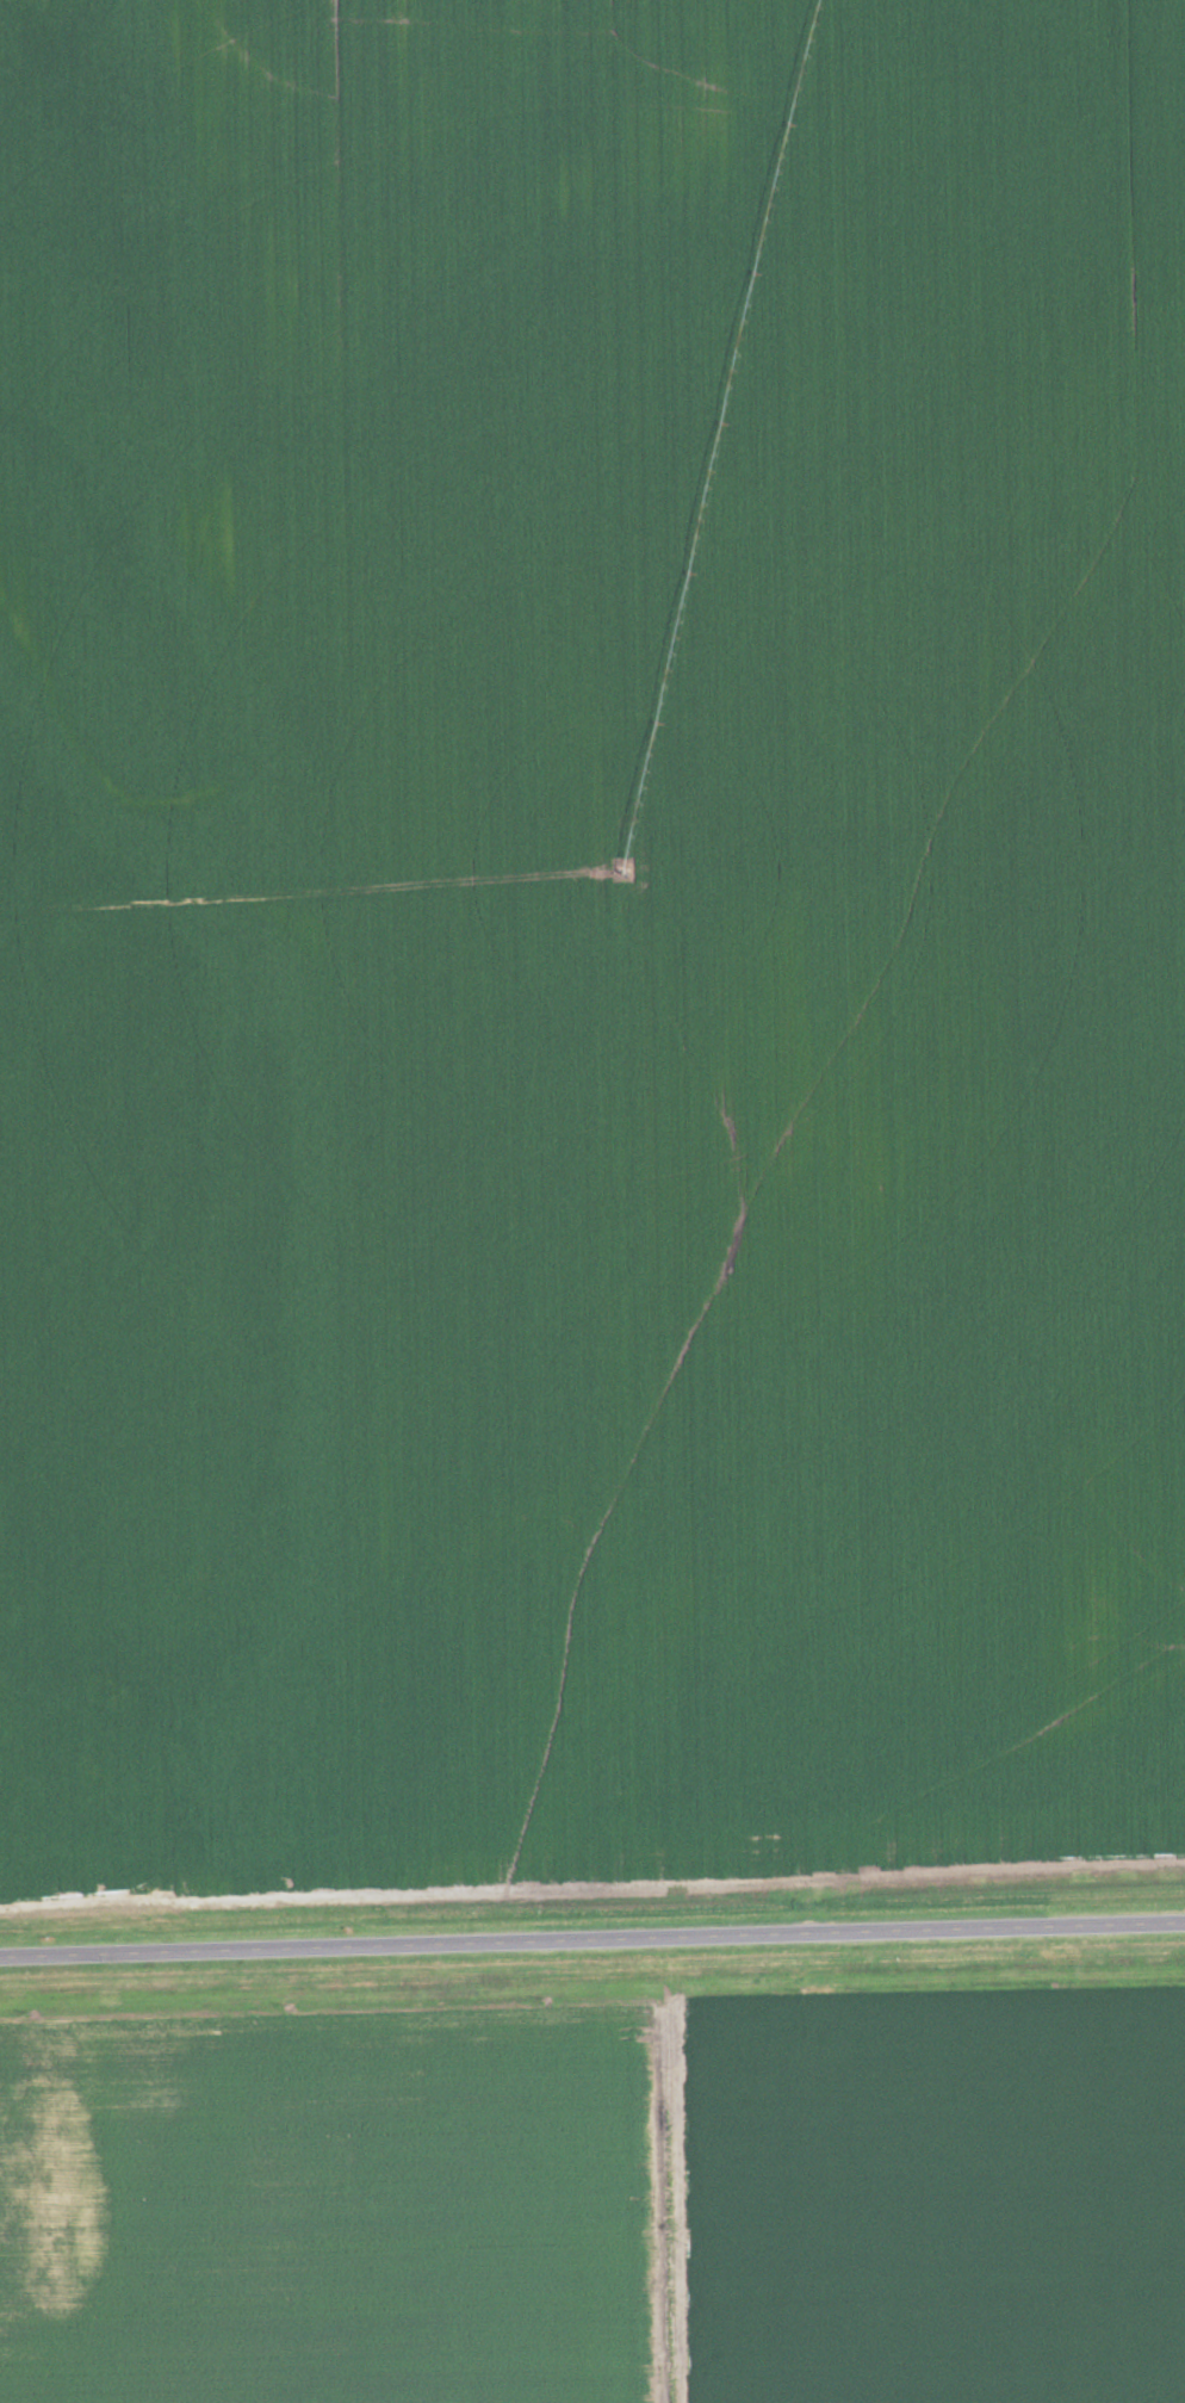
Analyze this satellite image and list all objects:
road: (591, 1934)

